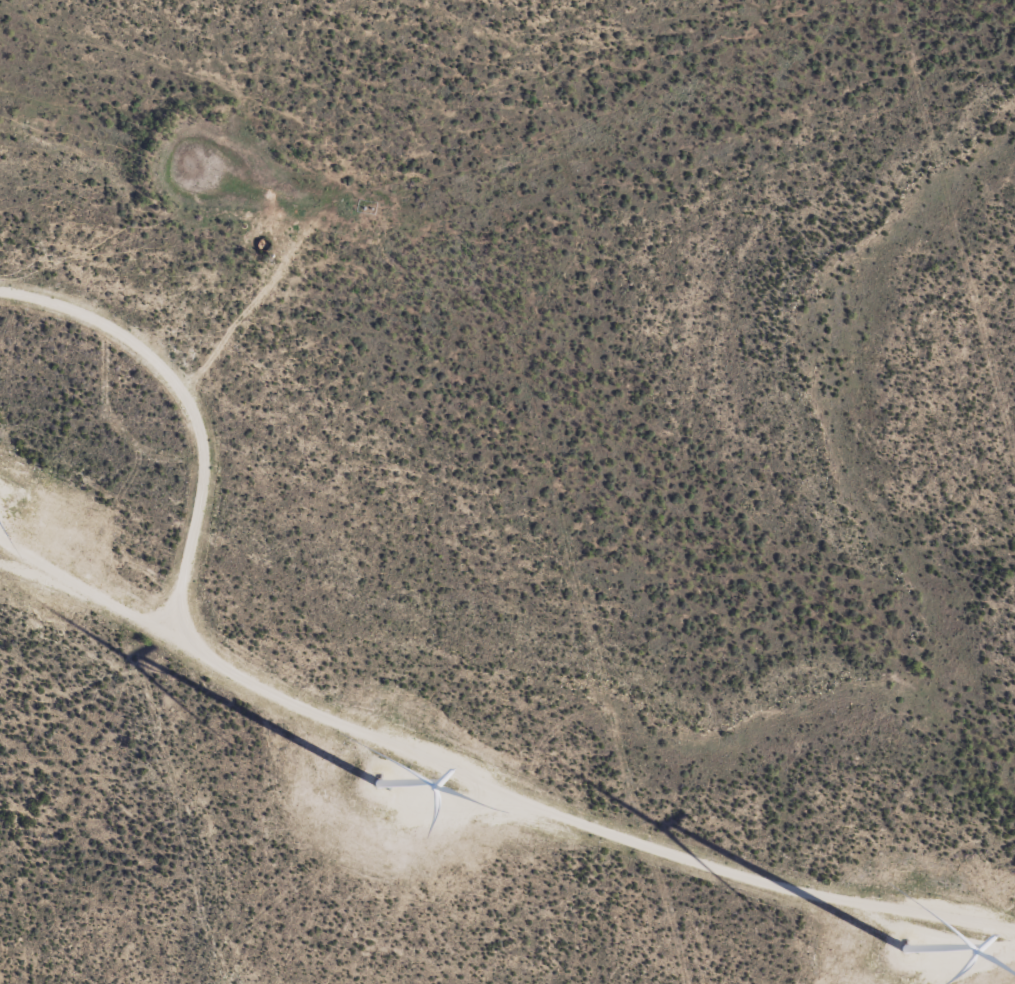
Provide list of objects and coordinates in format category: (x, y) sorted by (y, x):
road: (334, 190)
wind turbine: (390, 769)
wind turbine: (911, 950)

